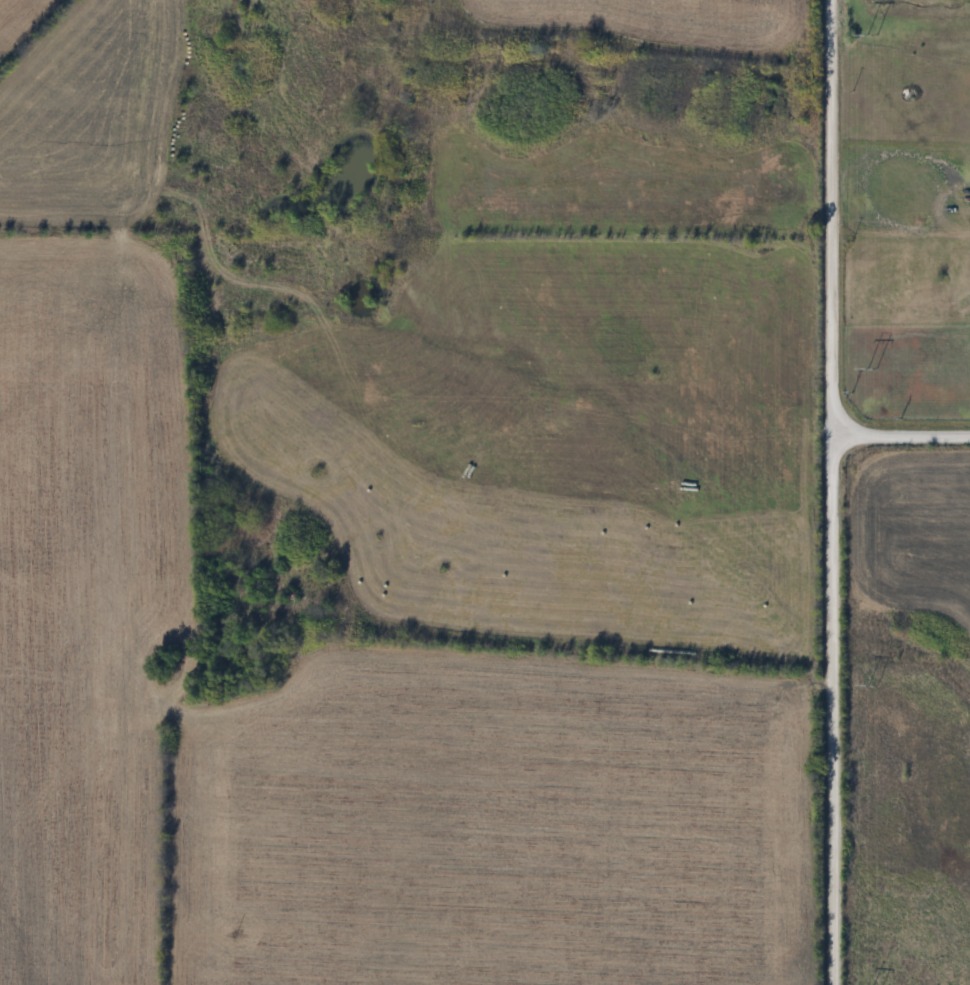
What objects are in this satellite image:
road: (899, 441)
road: (829, 492)

